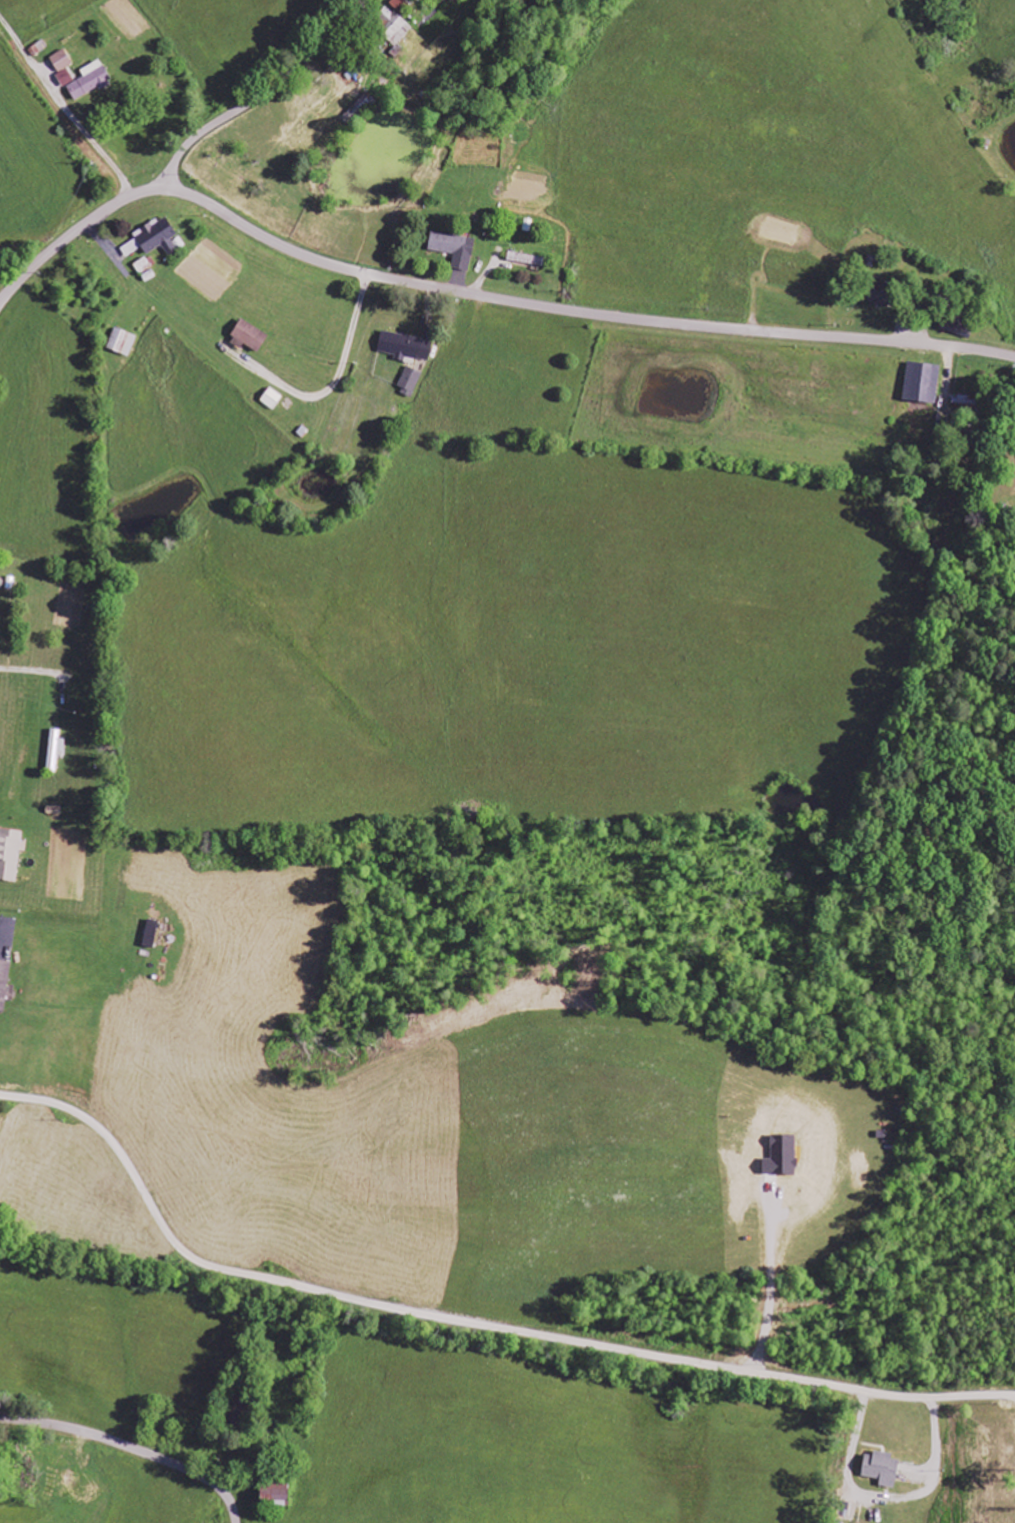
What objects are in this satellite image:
building: (395, 27)
building: (61, 60)
building: (65, 77)
building: (90, 80)
road: (259, 95)
road: (94, 106)
building: (158, 236)
building: (453, 248)
road: (479, 294)
building: (880, 297)
building: (959, 326)
building: (250, 335)
building: (121, 341)
building: (405, 346)
building: (409, 381)
building: (922, 382)
building: (272, 398)
building: (54, 748)
building: (4, 983)
road: (469, 1321)
road: (131, 1447)
building: (882, 1469)
building: (275, 1495)

